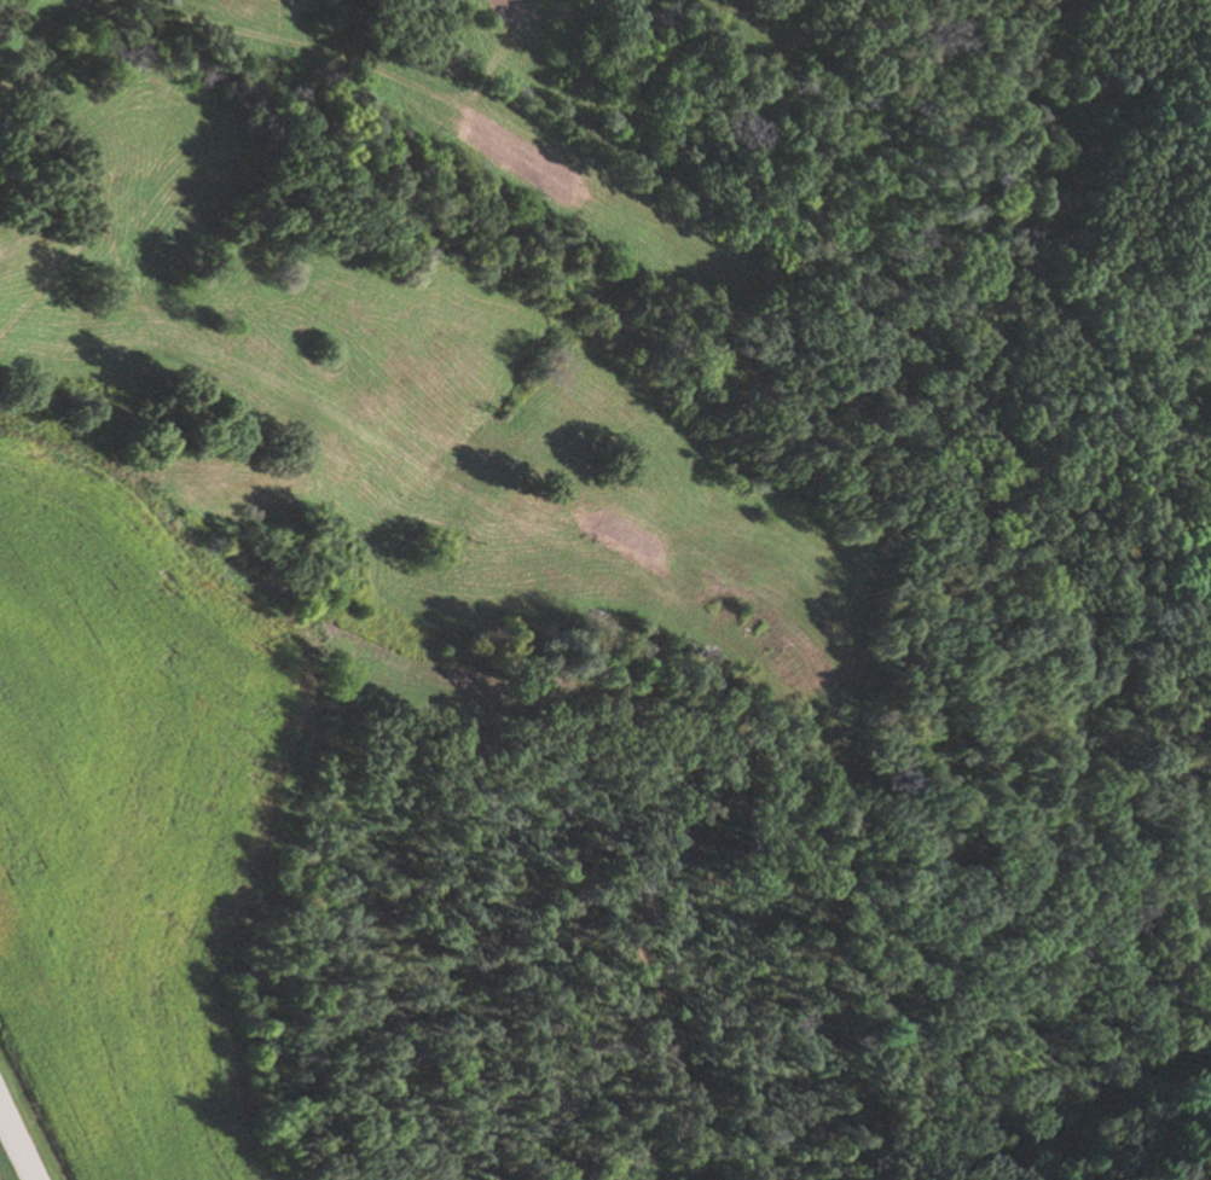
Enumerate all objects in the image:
road: (18, 1140)

